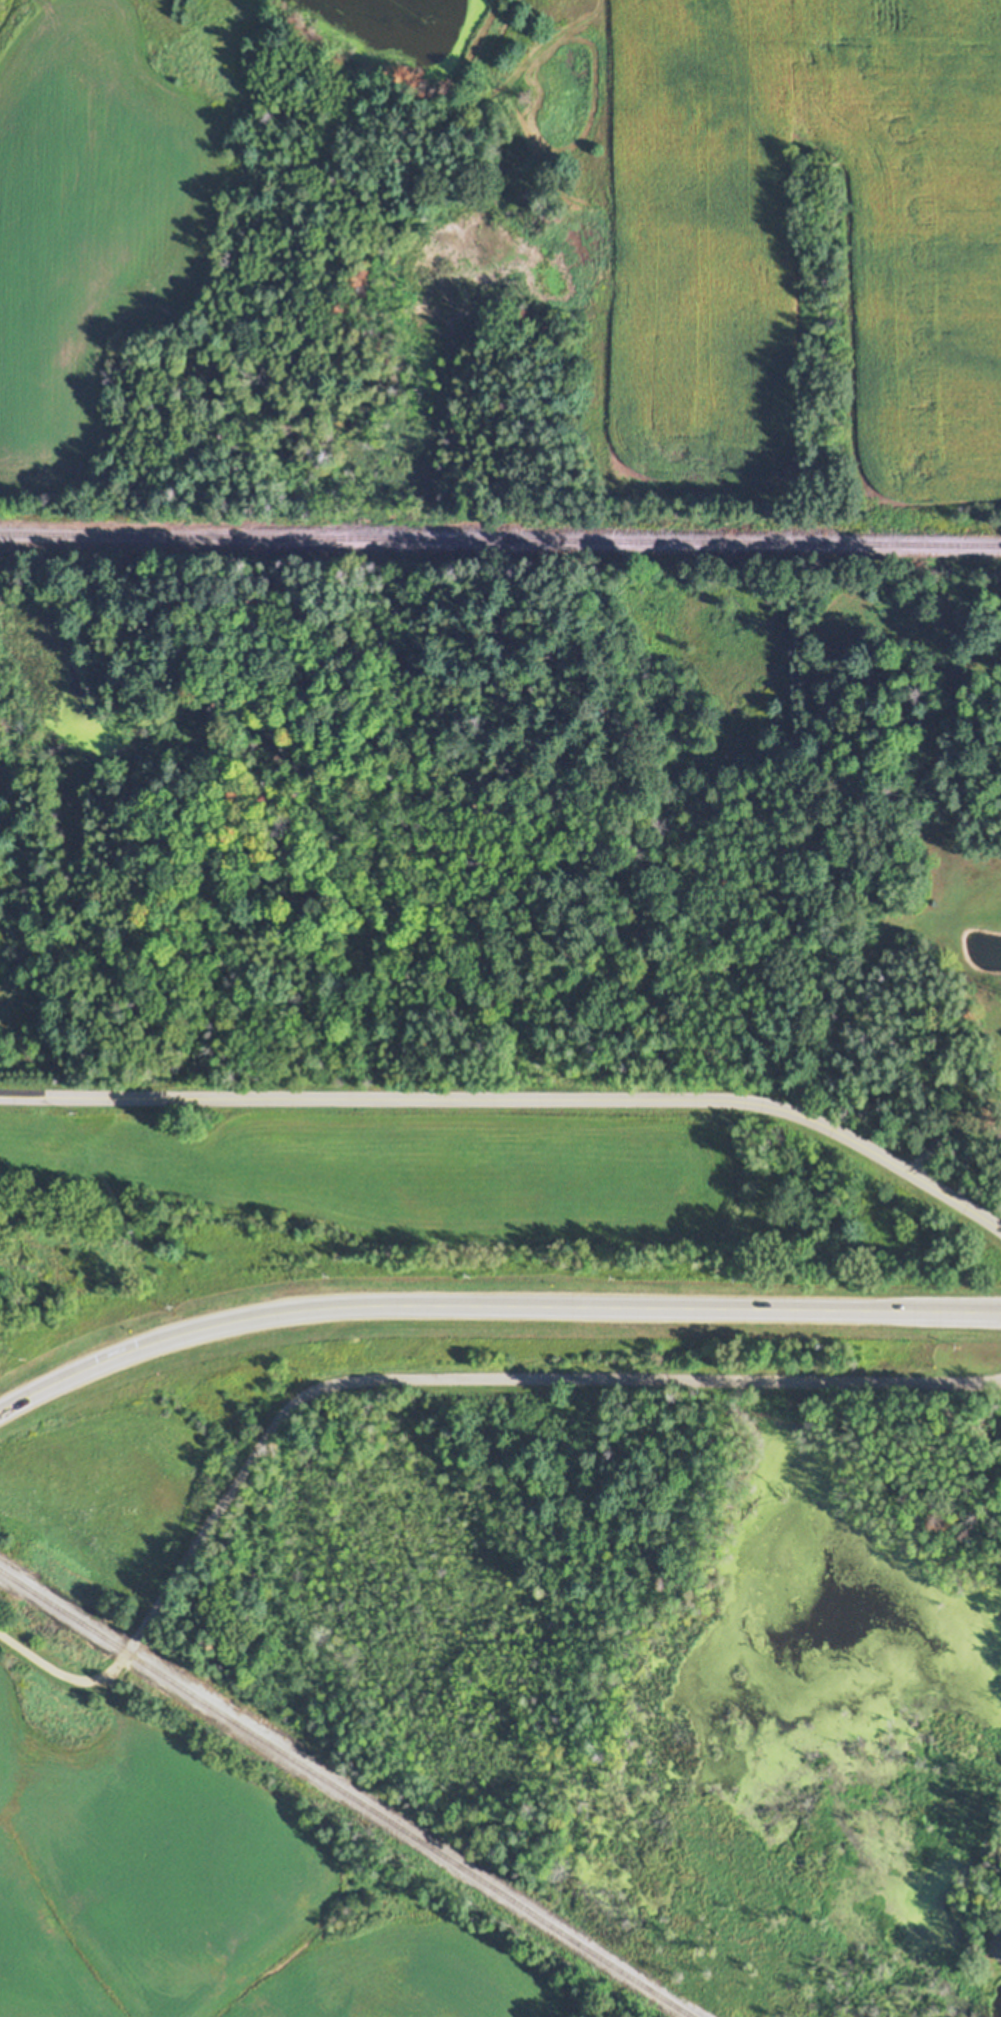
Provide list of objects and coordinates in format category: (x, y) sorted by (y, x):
railway: (500, 539)
road: (516, 1096)
road: (946, 1131)
road: (490, 1307)
road: (417, 1378)
railway: (348, 1793)

